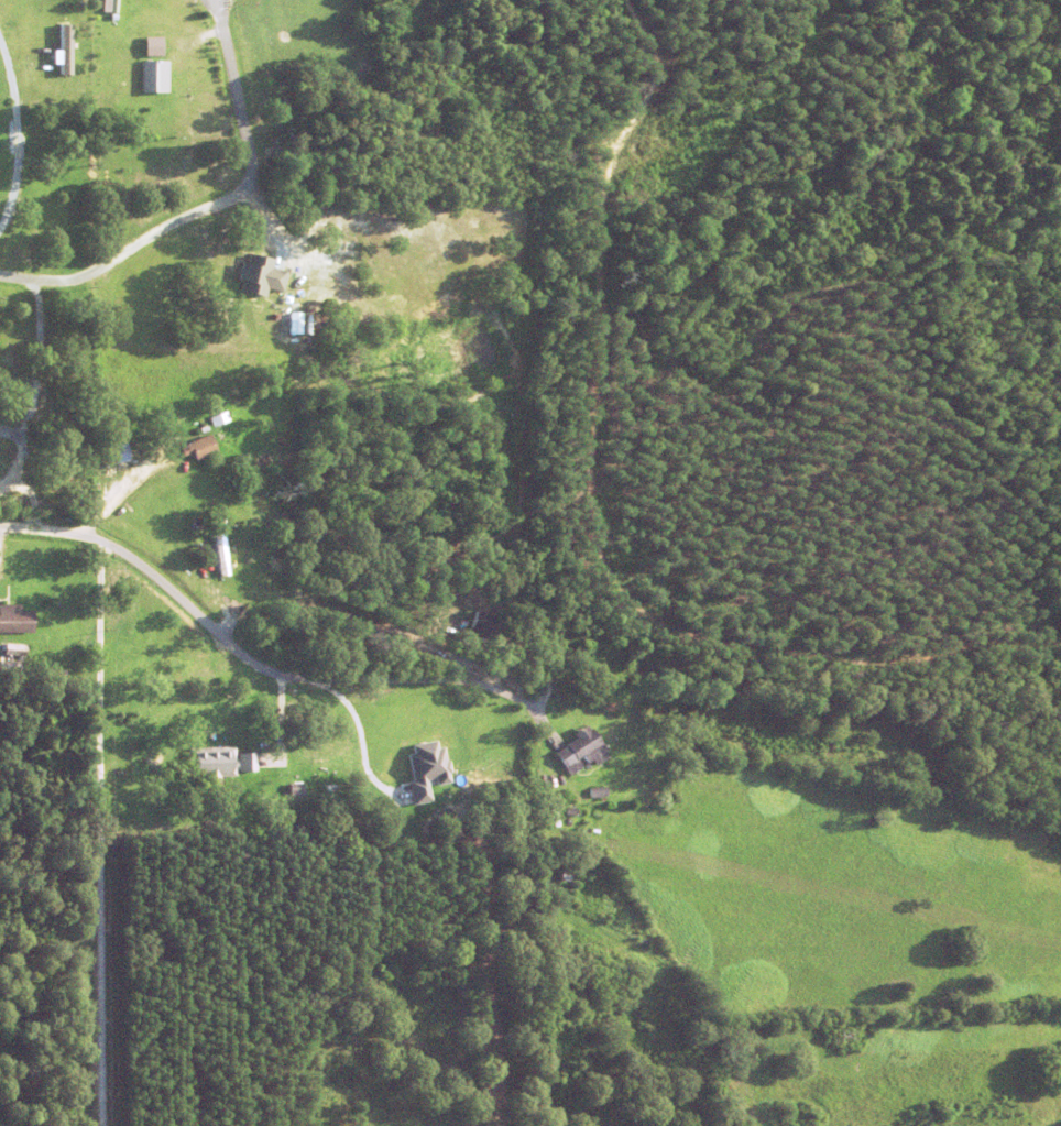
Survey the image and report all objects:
building: (152, 45)
building: (64, 48)
building: (155, 74)
building: (300, 112)
building: (302, 186)
building: (259, 273)
building: (231, 316)
building: (275, 316)
building: (293, 320)
building: (9, 348)
building: (9, 390)
building: (218, 417)
building: (198, 446)
building: (117, 450)
building: (226, 505)
building: (220, 551)
building: (15, 617)
building: (488, 622)
building: (14, 651)
building: (12, 668)
road: (332, 713)
building: (581, 750)
building: (218, 761)
building: (425, 769)
building: (999, 778)
building: (335, 787)
building: (296, 790)
building: (569, 809)
building: (484, 850)
building: (567, 868)
building: (553, 940)

